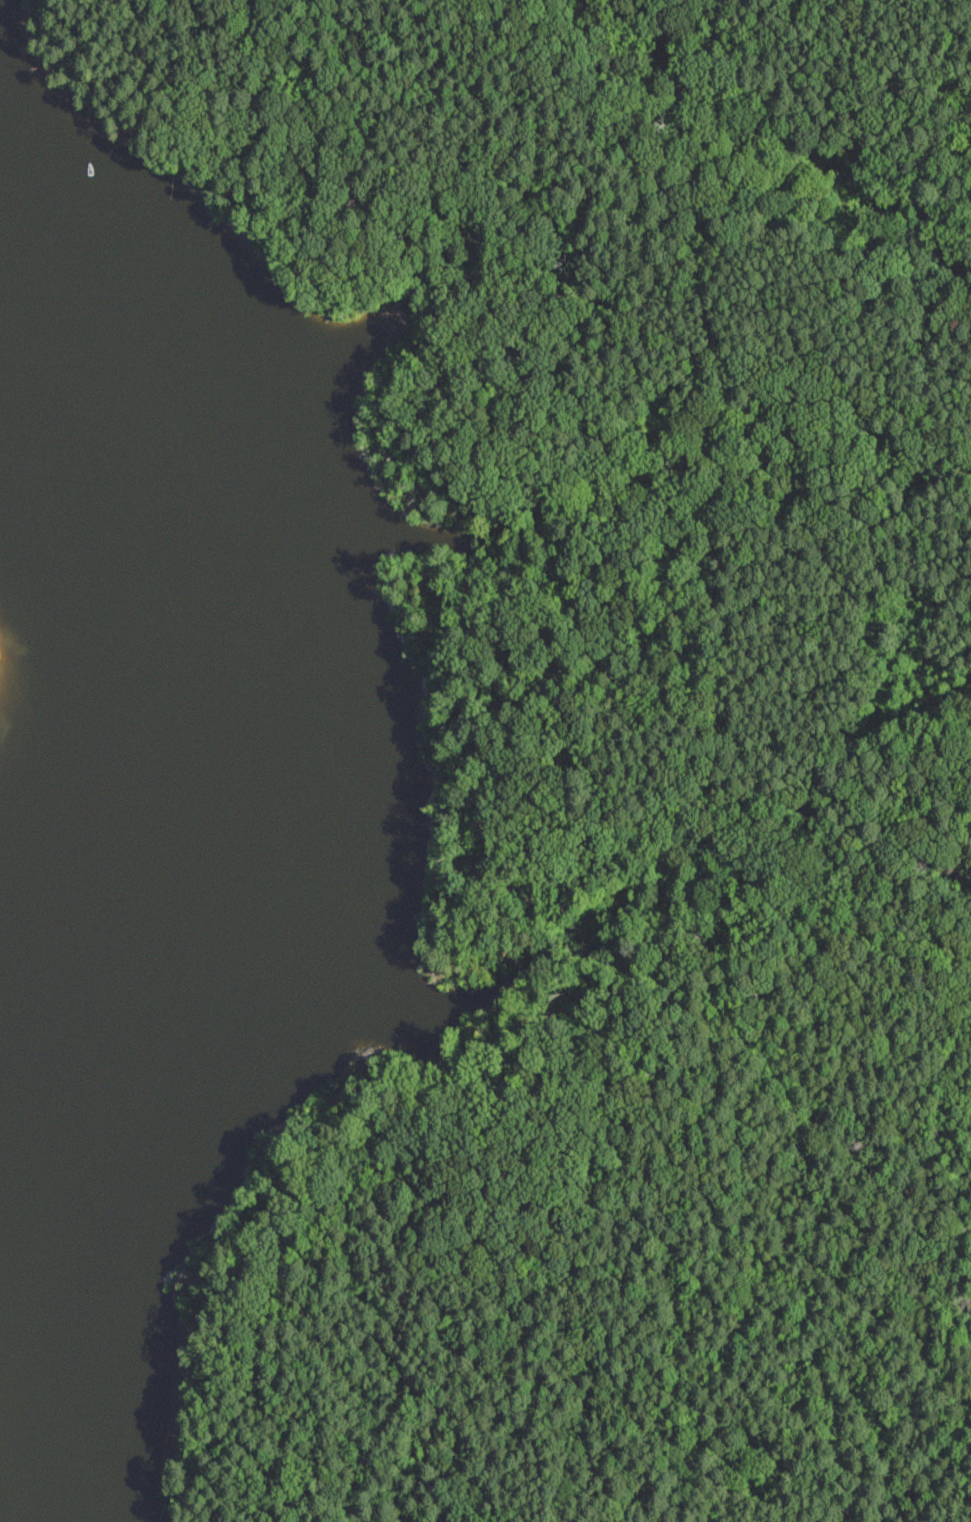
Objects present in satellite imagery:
park: (13, 690)
river: (95, 704)
park: (620, 756)

